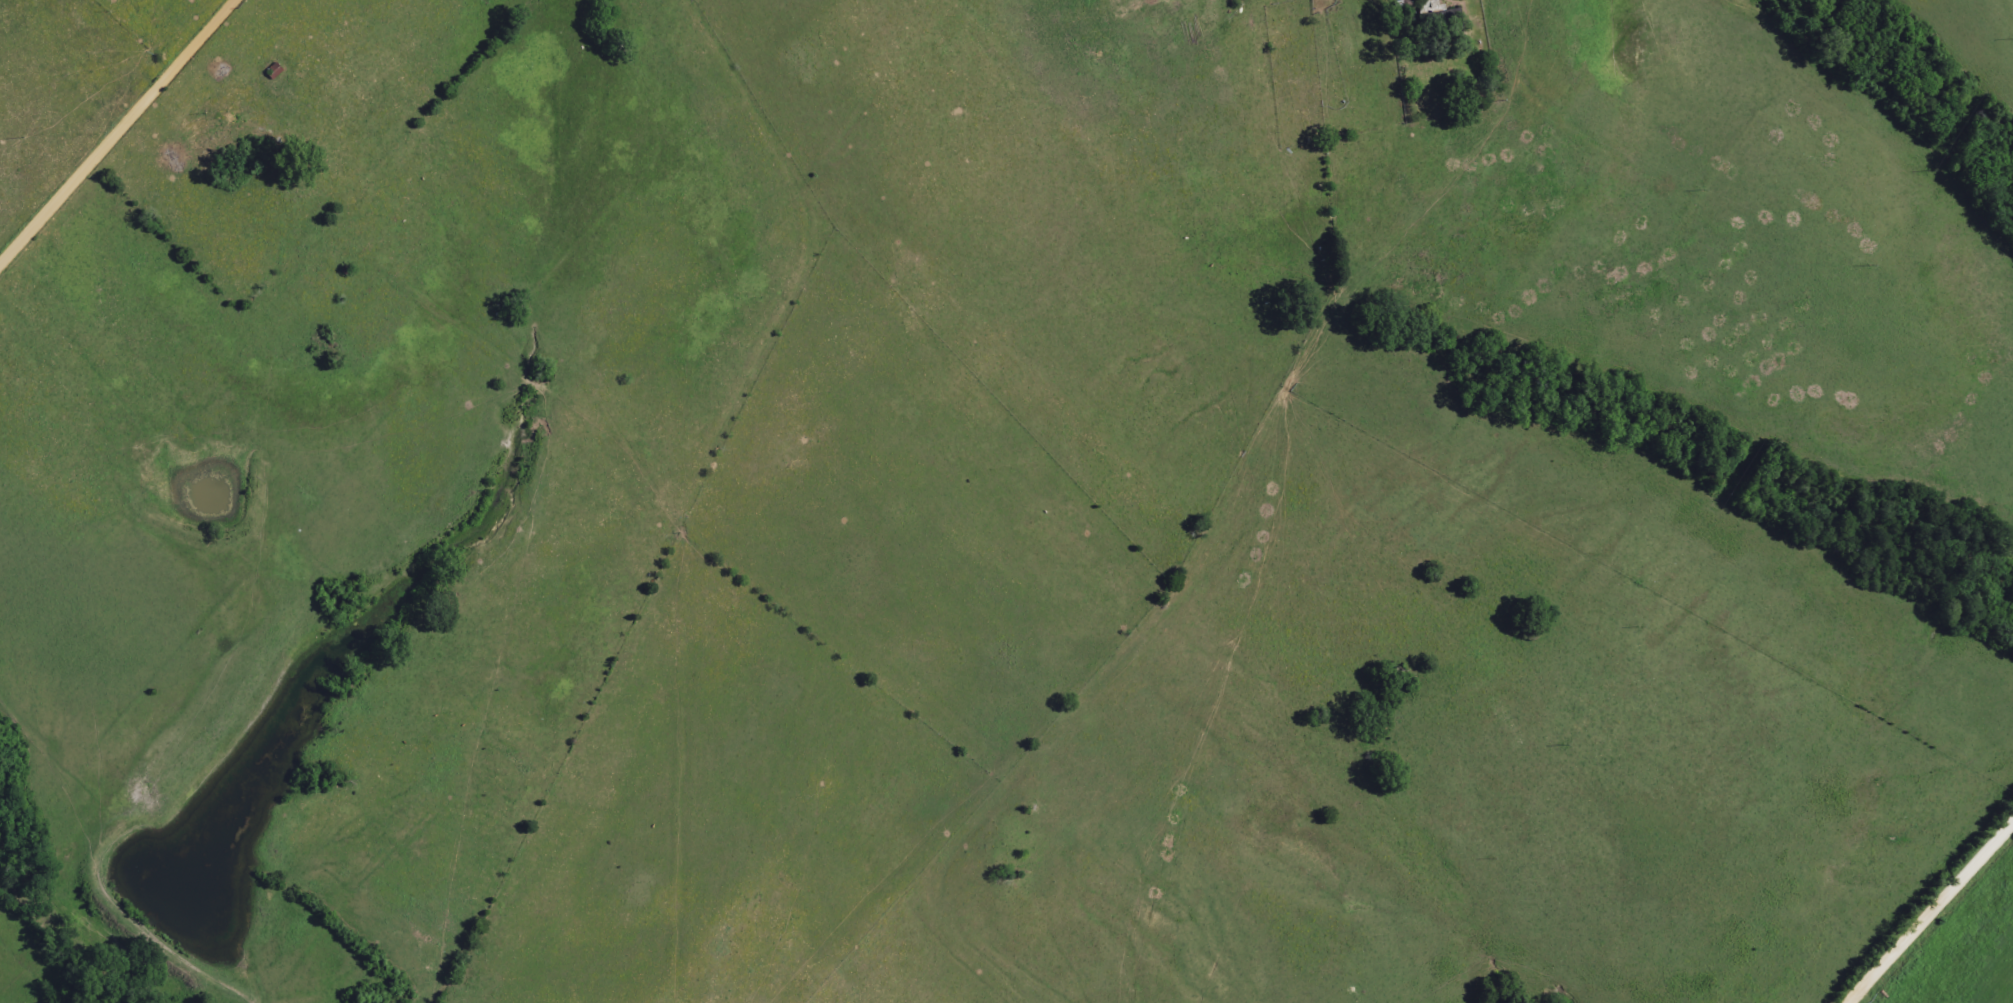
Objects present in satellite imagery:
road: (119, 135)
road: (1934, 915)

